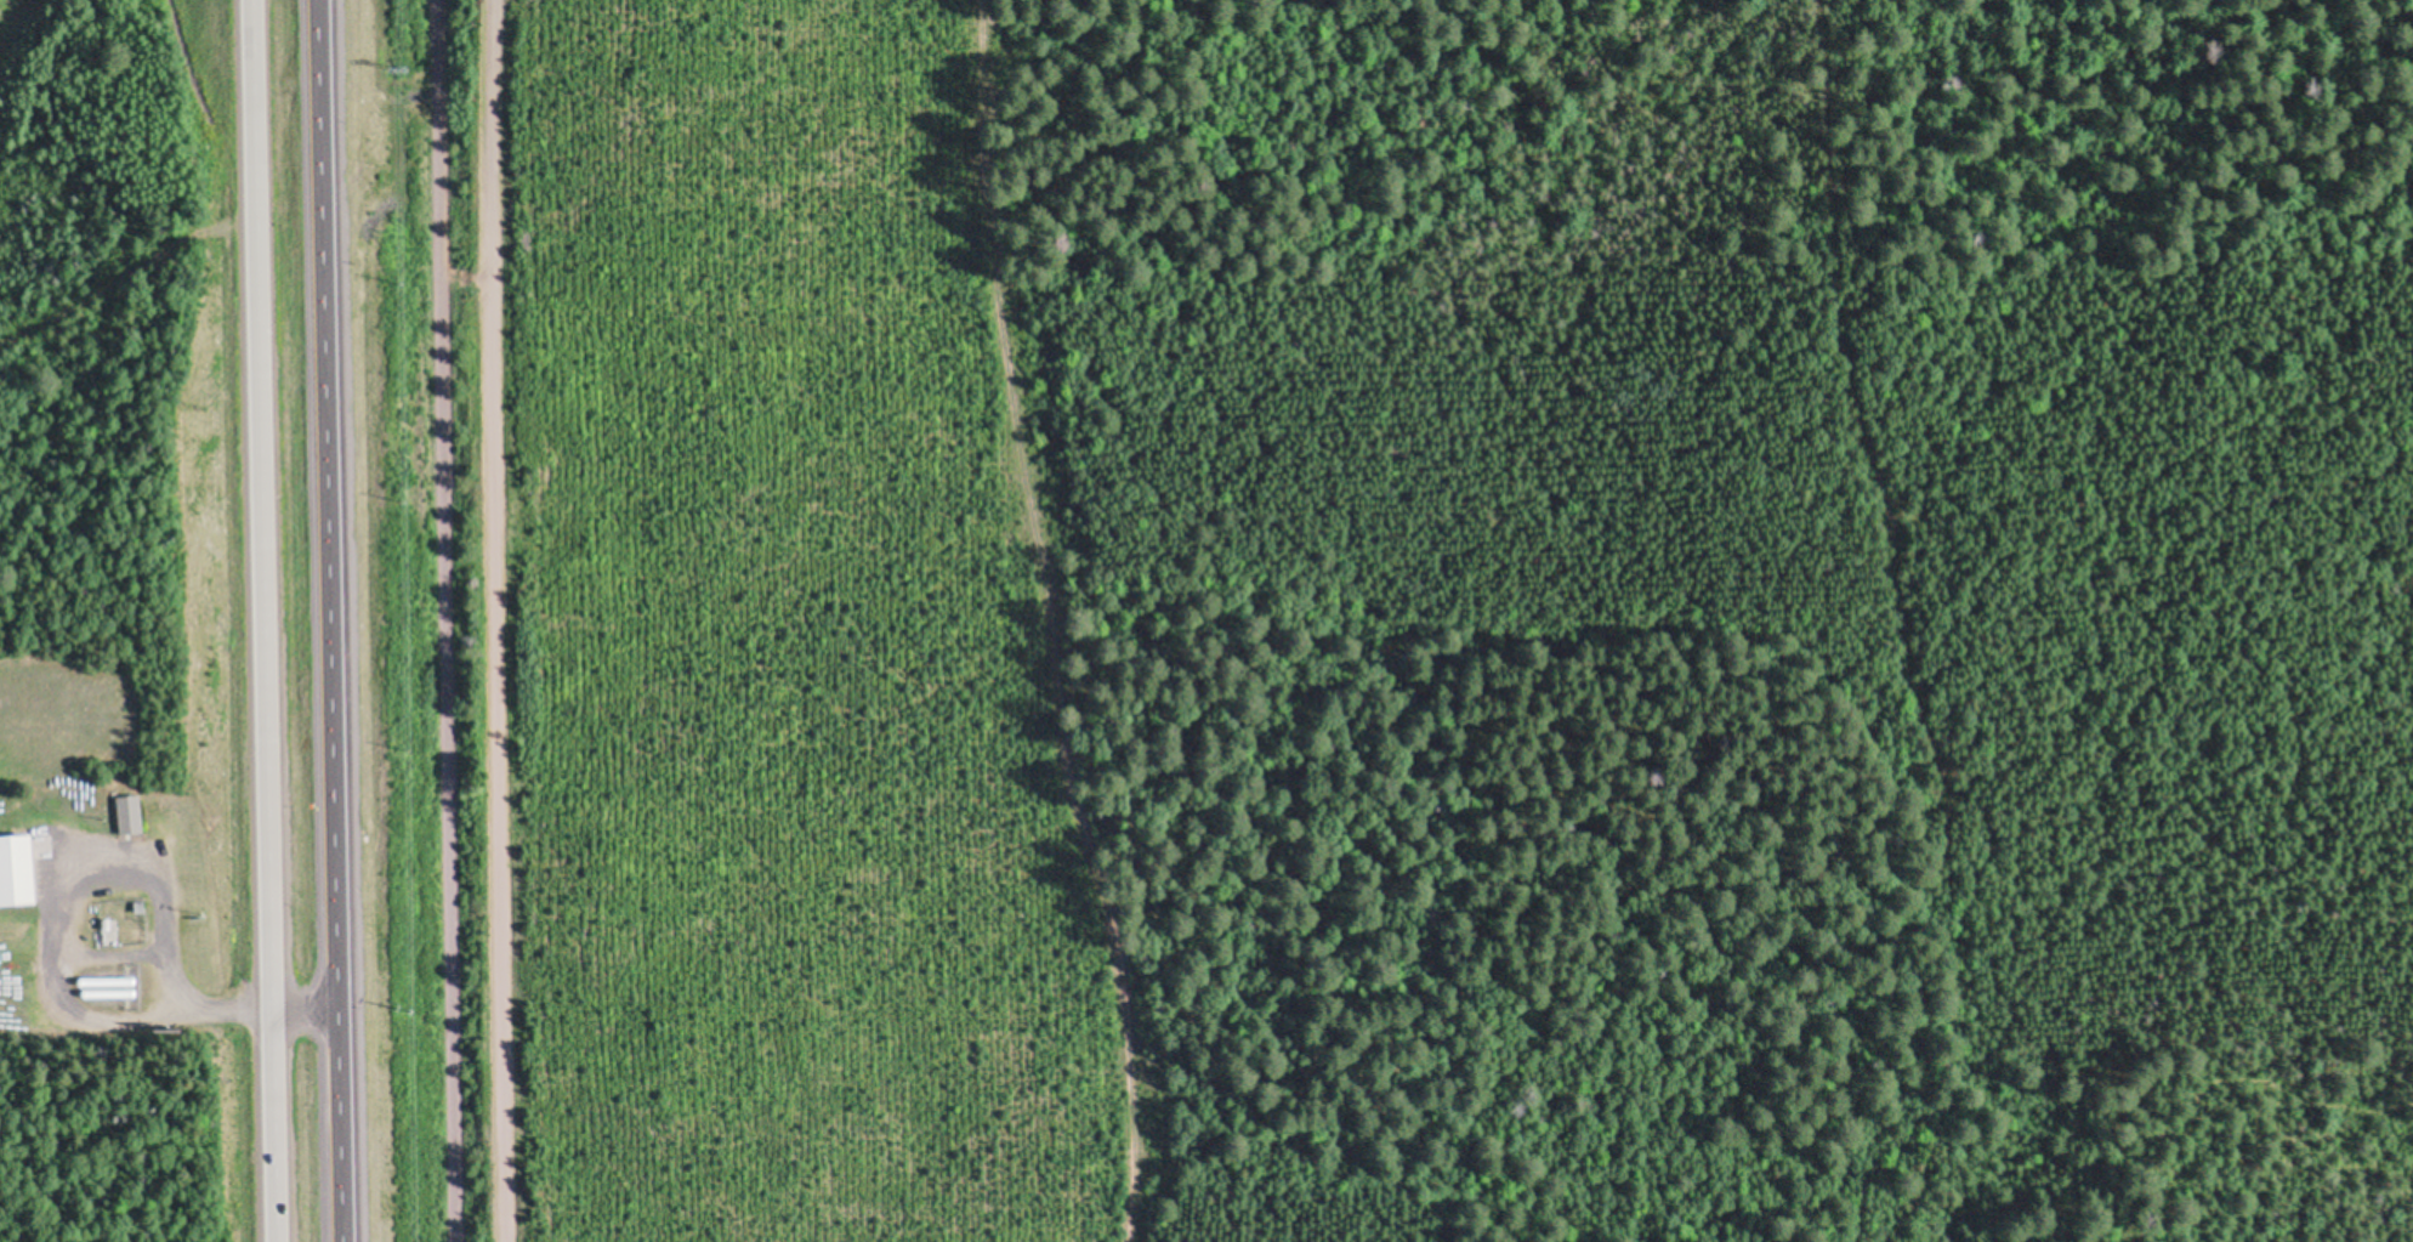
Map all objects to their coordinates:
road: (459, 289)
road: (262, 620)
road: (328, 620)
road: (438, 620)
road: (490, 620)
building: (127, 813)
building: (18, 869)
road: (59, 923)
building: (109, 986)
storage tank: (109, 986)
road: (187, 1009)

